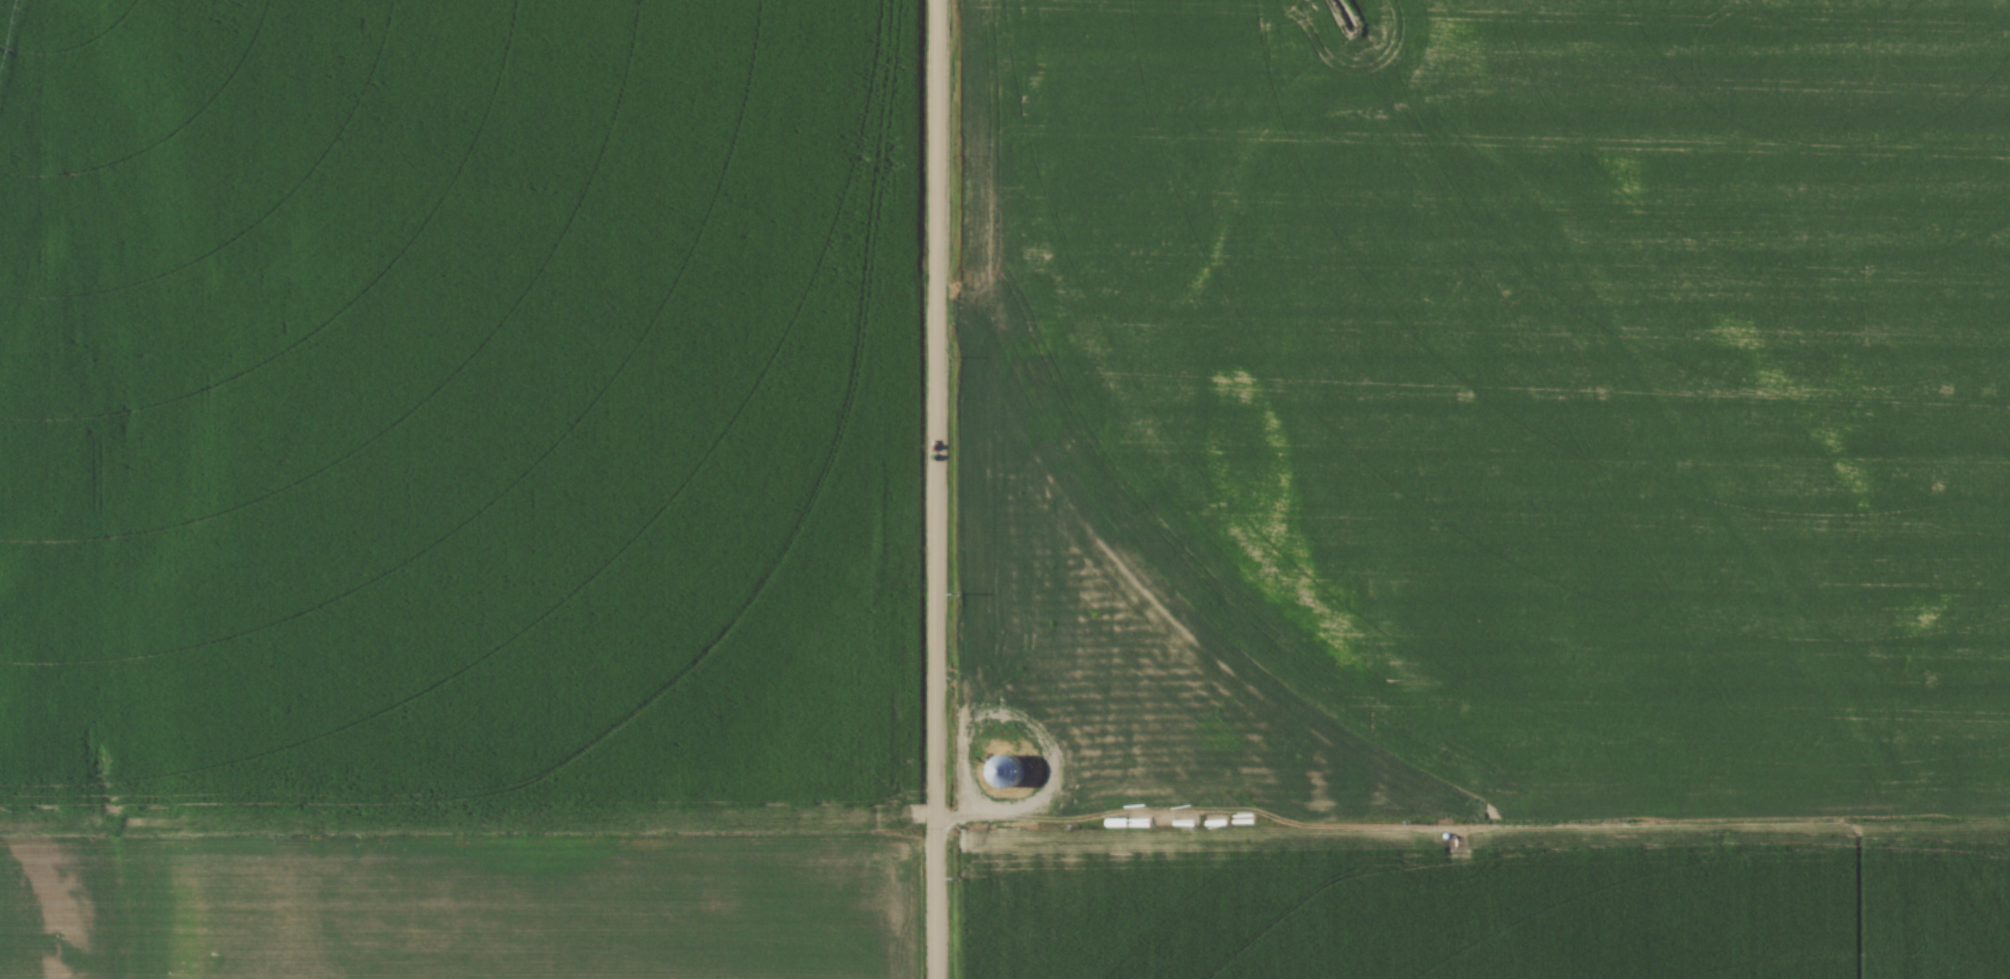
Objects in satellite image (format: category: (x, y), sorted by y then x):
crop: (1489, 487)
crop: (455, 489)
road: (935, 489)
building: (1005, 773)
silo: (1006, 773)
building: (1932, 830)
road: (1504, 851)
road: (1924, 866)

